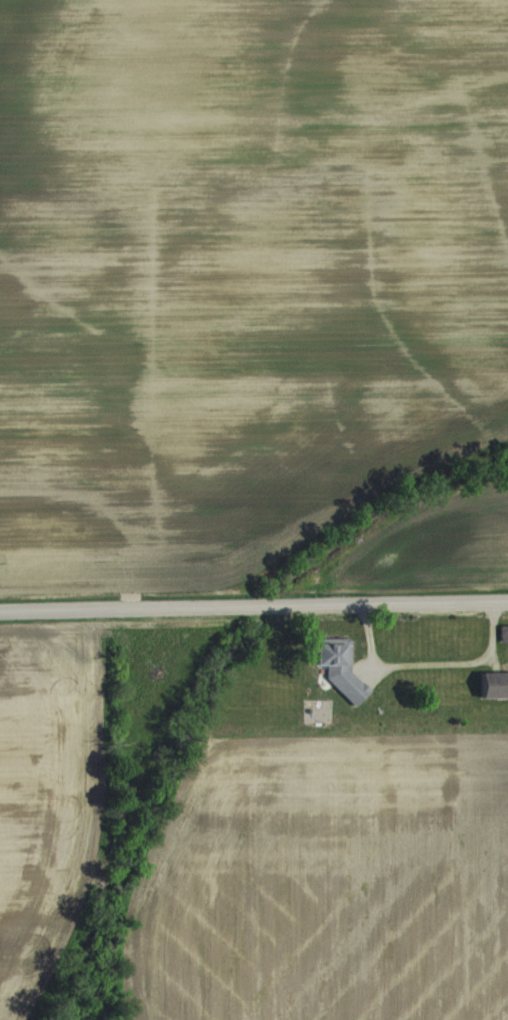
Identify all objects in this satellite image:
road: (254, 607)
building: (335, 666)
road: (425, 666)

